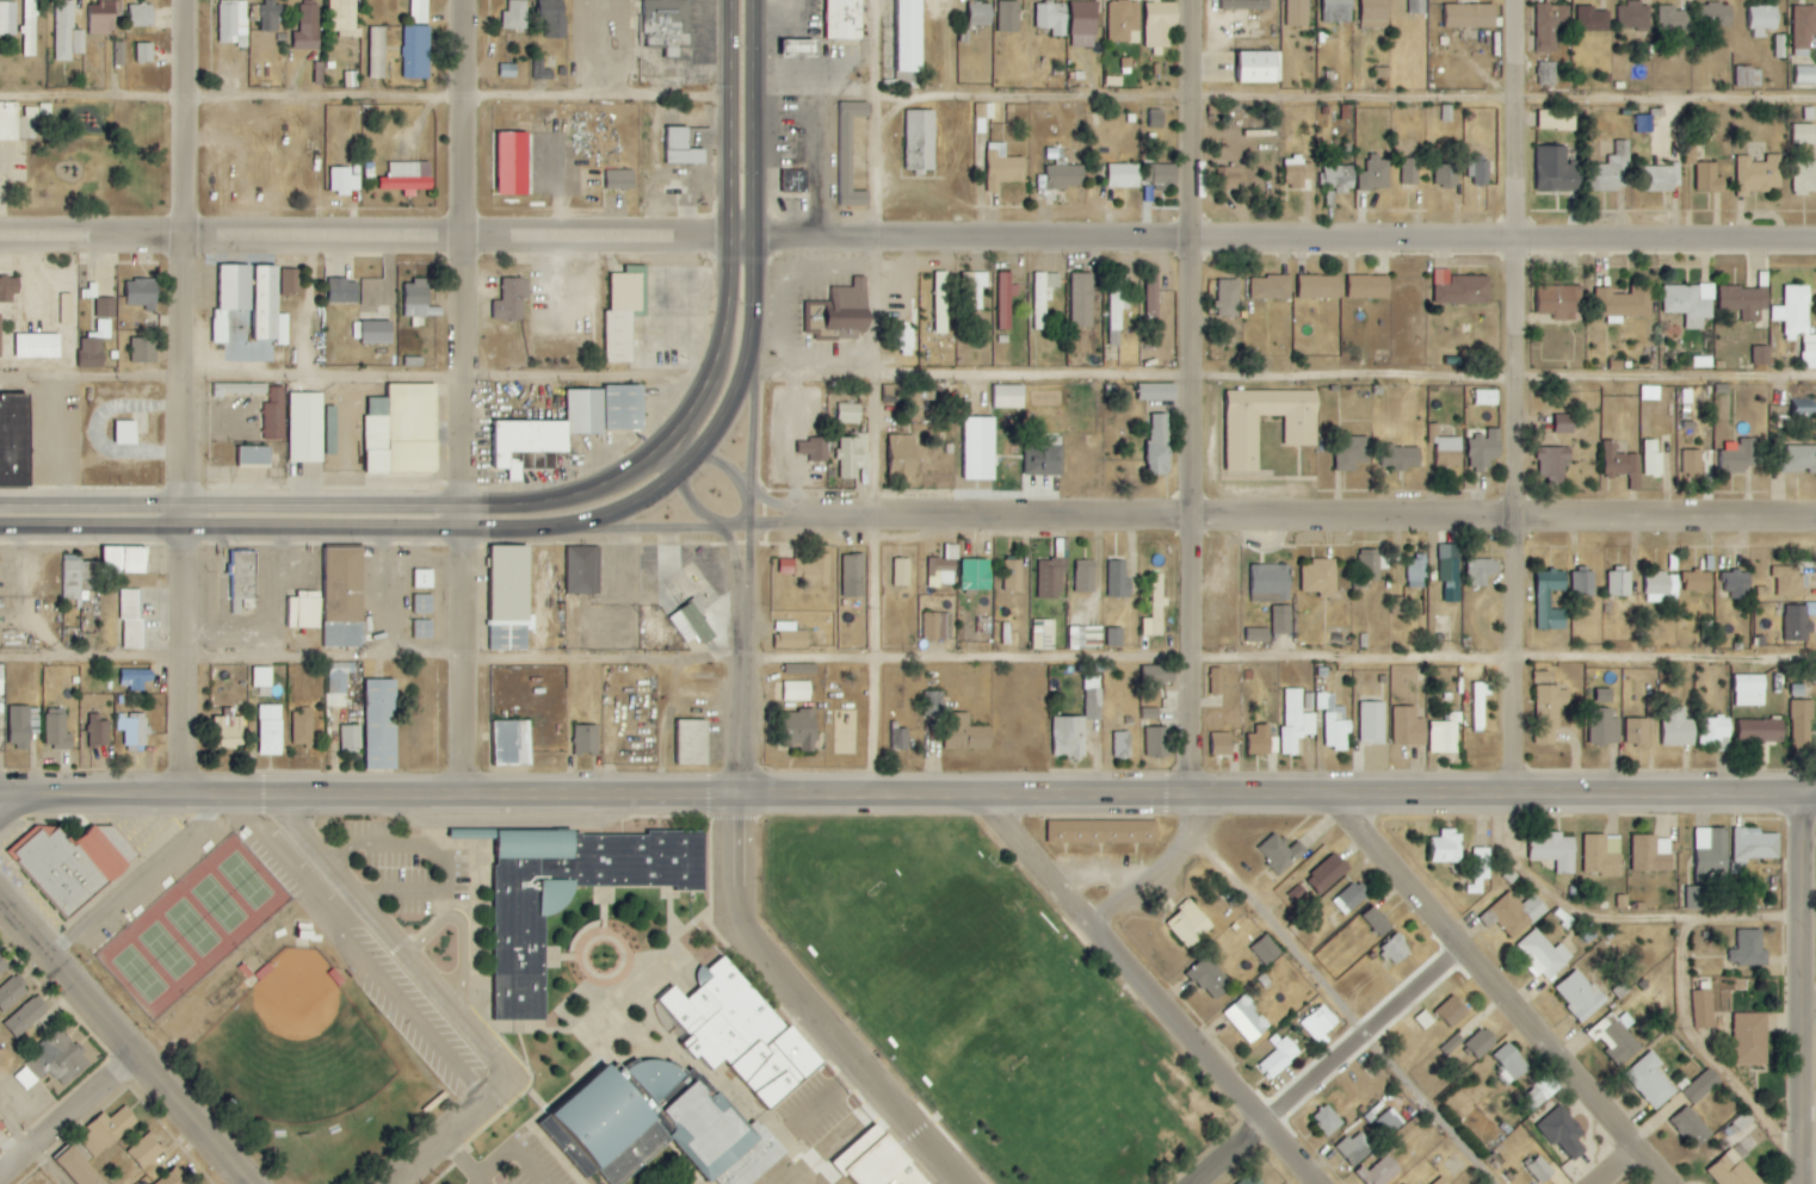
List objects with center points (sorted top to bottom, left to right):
building: (1246, 4)
building: (1416, 6)
building: (419, 11)
building: (1338, 11)
building: (981, 13)
building: (1297, 13)
building: (514, 14)
building: (1375, 14)
building: (141, 16)
building: (270, 16)
building: (1470, 16)
building: (1715, 16)
building: (104, 17)
building: (341, 17)
building: (1009, 17)
building: (1633, 17)
building: (7, 18)
building: (552, 18)
building: (1051, 18)
building: (1593, 19)
building: (1673, 19)
building: (1761, 19)
building: (841, 20)
building: (1124, 21)
building: (233, 23)
building: (1160, 23)
building: (1083, 24)
building: (667, 25)
building: (1550, 25)
building: (1803, 26)
building: (29, 27)
building: (308, 29)
building: (63, 32)
building: (908, 36)
building: (79, 42)
building: (799, 49)
building: (144, 52)
building: (377, 52)
building: (413, 52)
building: (119, 54)
building: (1258, 67)
building: (543, 69)
building: (508, 70)
building: (317, 72)
building: (1382, 73)
building: (1548, 73)
building: (1804, 75)
building: (1749, 78)
building: (350, 80)
road: (1284, 98)
road: (364, 99)
building: (984, 111)
road: (754, 118)
building: (1157, 118)
road: (1509, 118)
road: (461, 119)
road: (729, 119)
road: (873, 119)
building: (1557, 119)
road: (181, 120)
road: (1187, 120)
building: (8, 122)
building: (1644, 123)
building: (1803, 134)
building: (920, 141)
building: (678, 148)
building: (850, 154)
building: (513, 163)
building: (1003, 168)
building: (1616, 169)
building: (1557, 171)
building: (1298, 172)
building: (1410, 172)
building: (1480, 172)
building: (1376, 174)
building: (1124, 175)
building: (1161, 175)
building: (1447, 175)
building: (1759, 175)
building: (408, 178)
building: (1060, 178)
building: (1228, 178)
building: (1339, 178)
building: (1663, 178)
building: (1709, 179)
building: (617, 180)
building: (1804, 180)
building: (342, 181)
building: (795, 181)
road: (908, 240)
building: (291, 281)
building: (1271, 287)
building: (1320, 287)
building: (1370, 287)
building: (1460, 289)
building: (8, 290)
building: (972, 290)
building: (342, 291)
building: (142, 293)
building: (230, 298)
building: (1042, 298)
building: (1154, 298)
building: (1228, 298)
building: (416, 299)
building: (1005, 299)
building: (1082, 299)
building: (512, 300)
building: (1744, 300)
building: (1561, 302)
building: (940, 303)
building: (1624, 303)
building: (1691, 303)
building: (105, 308)
building: (66, 309)
building: (840, 314)
building: (622, 317)
building: (1797, 322)
road: (725, 323)
building: (0, 333)
building: (373, 333)
road: (749, 335)
building: (900, 341)
building: (94, 346)
building: (35, 347)
building: (143, 352)
building: (1761, 355)
road: (1284, 379)
road: (339, 382)
building: (1157, 392)
building: (1650, 393)
building: (901, 395)
building: (1008, 397)
building: (1485, 397)
building: (1802, 405)
building: (607, 409)
building: (848, 414)
building: (274, 415)
building: (1564, 423)
building: (304, 427)
road: (749, 428)
building: (402, 430)
building: (1301, 430)
building: (125, 433)
building: (14, 440)
building: (1159, 444)
building: (529, 446)
building: (814, 448)
building: (978, 448)
building: (1484, 448)
road: (659, 452)
building: (1351, 452)
building: (255, 457)
building: (852, 457)
building: (903, 457)
building: (1044, 457)
road: (710, 458)
building: (1402, 458)
building: (1653, 459)
building: (1798, 459)
building: (1692, 461)
building: (1552, 464)
building: (1622, 464)
road: (666, 483)
road: (774, 503)
road: (304, 507)
road: (699, 514)
road: (1310, 514)
road: (1511, 514)
road: (463, 515)
road: (179, 516)
road: (700, 528)
road: (299, 531)
road: (1187, 537)
building: (125, 562)
building: (1370, 568)
building: (943, 569)
building: (807, 570)
building: (581, 571)
building: (1450, 571)
building: (901, 572)
building: (1416, 572)
building: (976, 575)
building: (1013, 576)
building: (853, 577)
building: (1085, 577)
building: (1050, 578)
building: (1321, 578)
building: (242, 579)
building: (424, 579)
building: (1119, 581)
road: (871, 582)
building: (1697, 582)
building: (1790, 582)
building: (1271, 583)
building: (1619, 583)
building: (1583, 584)
building: (1738, 584)
building: (1661, 588)
building: (344, 599)
building: (1551, 601)
building: (424, 605)
building: (1398, 607)
building: (1155, 609)
building: (304, 610)
building: (132, 619)
building: (1281, 620)
building: (692, 624)
building: (1798, 624)
building: (937, 626)
building: (422, 630)
building: (1043, 636)
building: (1258, 636)
building: (790, 637)
building: (1085, 638)
building: (1116, 638)
road: (907, 656)
building: (1155, 674)
building: (1542, 676)
building: (261, 677)
building: (135, 678)
building: (1, 681)
building: (1216, 681)
building: (338, 684)
building: (1749, 690)
building: (796, 692)
building: (934, 703)
building: (1480, 706)
building: (1549, 712)
building: (1151, 713)
building: (1077, 723)
building: (1296, 723)
building: (1334, 723)
building: (1372, 723)
building: (381, 725)
building: (1802, 725)
building: (19, 727)
building: (1408, 727)
building: (1604, 727)
building: (302, 729)
building: (1676, 729)
building: (99, 731)
building: (132, 731)
building: (270, 731)
building: (799, 731)
building: (1760, 731)
building: (1637, 732)
building: (57, 733)
building: (1715, 733)
building: (230, 734)
building: (965, 734)
building: (898, 738)
building: (1444, 738)
building: (351, 739)
building: (587, 740)
building: (1159, 742)
building: (1261, 742)
building: (513, 743)
building: (693, 743)
building: (1122, 744)
building: (1222, 744)
road: (908, 792)
road: (12, 804)
building: (1102, 832)
building: (1756, 845)
building: (1447, 848)
building: (1281, 853)
building: (1555, 853)
building: (1711, 853)
building: (1651, 854)
building: (1602, 855)
building: (67, 866)
building: (1480, 870)
building: (1327, 874)
road: (1143, 876)
road: (142, 878)
building: (572, 893)
building: (1298, 893)
road: (734, 894)
building: (1695, 898)
building: (1348, 899)
road: (1808, 900)
building: (1517, 913)
road: (1608, 918)
building: (1377, 922)
building: (1190, 924)
park: (190, 926)
road: (390, 937)
building: (1749, 949)
building: (1267, 950)
building: (1396, 950)
building: (1543, 956)
building: (2, 966)
building: (1210, 978)
road: (1154, 988)
road: (1505, 990)
road: (1799, 990)
building: (10, 993)
building: (1580, 996)
road: (1347, 1006)
road: (1808, 1008)
building: (1704, 1010)
building: (1452, 1011)
building: (26, 1016)
building: (1247, 1019)
building: (1320, 1024)
building: (741, 1033)
building: (1616, 1037)
road: (125, 1040)
building: (1752, 1040)
building: (1452, 1043)
building: (1480, 1043)
park: (289, 1044)
road: (1704, 1050)
building: (1278, 1056)
building: (58, 1058)
building: (1511, 1064)
road: (1336, 1066)
building: (654, 1077)
building: (25, 1078)
building: (1650, 1081)
building: (1701, 1086)
road: (1806, 1112)
road: (70, 1114)
building: (1328, 1120)
building: (0, 1122)
building: (1390, 1122)
building: (1743, 1122)
building: (606, 1128)
building: (1691, 1128)
road: (452, 1129)
building: (109, 1130)
building: (1563, 1133)
building: (721, 1139)
road: (847, 1141)
building: (1357, 1148)
road: (30, 1149)
building: (146, 1151)
road: (463, 1161)
building: (878, 1161)
road: (1626, 1167)
building: (78, 1168)
building: (1539, 1170)
building: (1734, 1170)
building: (1382, 1171)
building: (169, 1179)
building: (1252, 1179)
building: (1441, 1180)
building: (1409, 1183)

